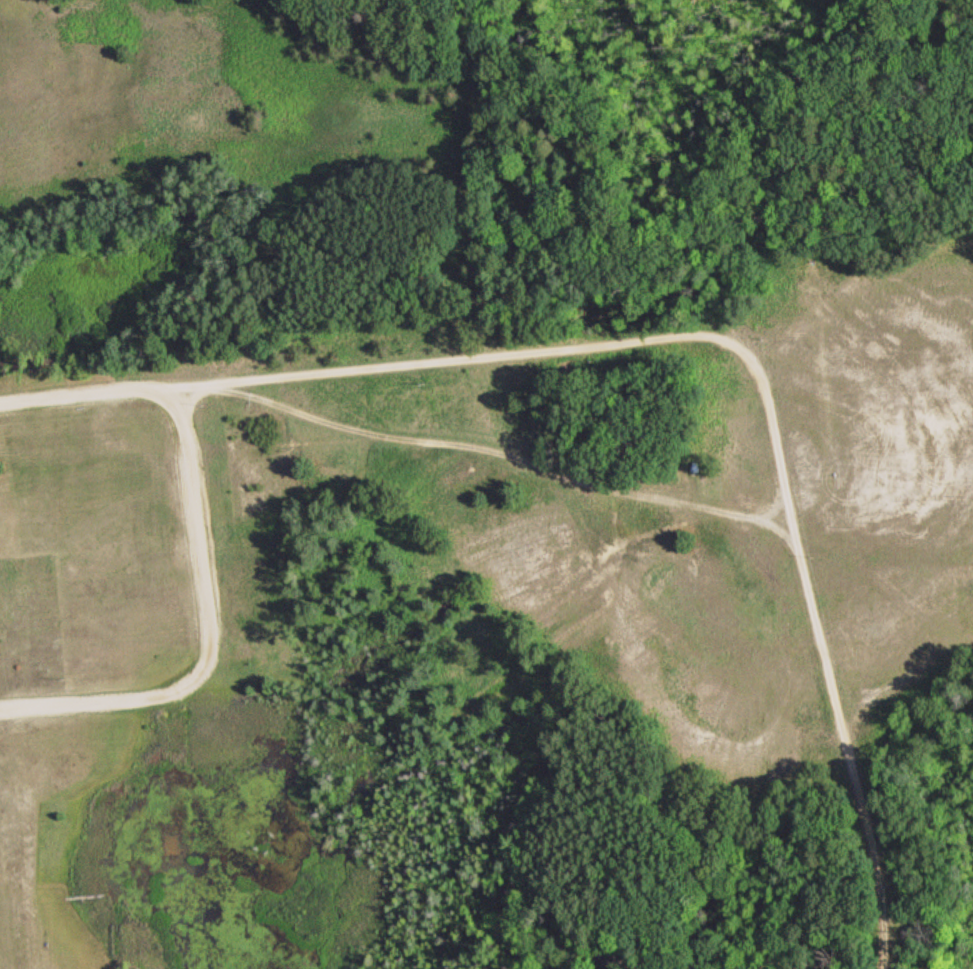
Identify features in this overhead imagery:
road: (762, 379)
road: (90, 390)
road: (212, 635)

